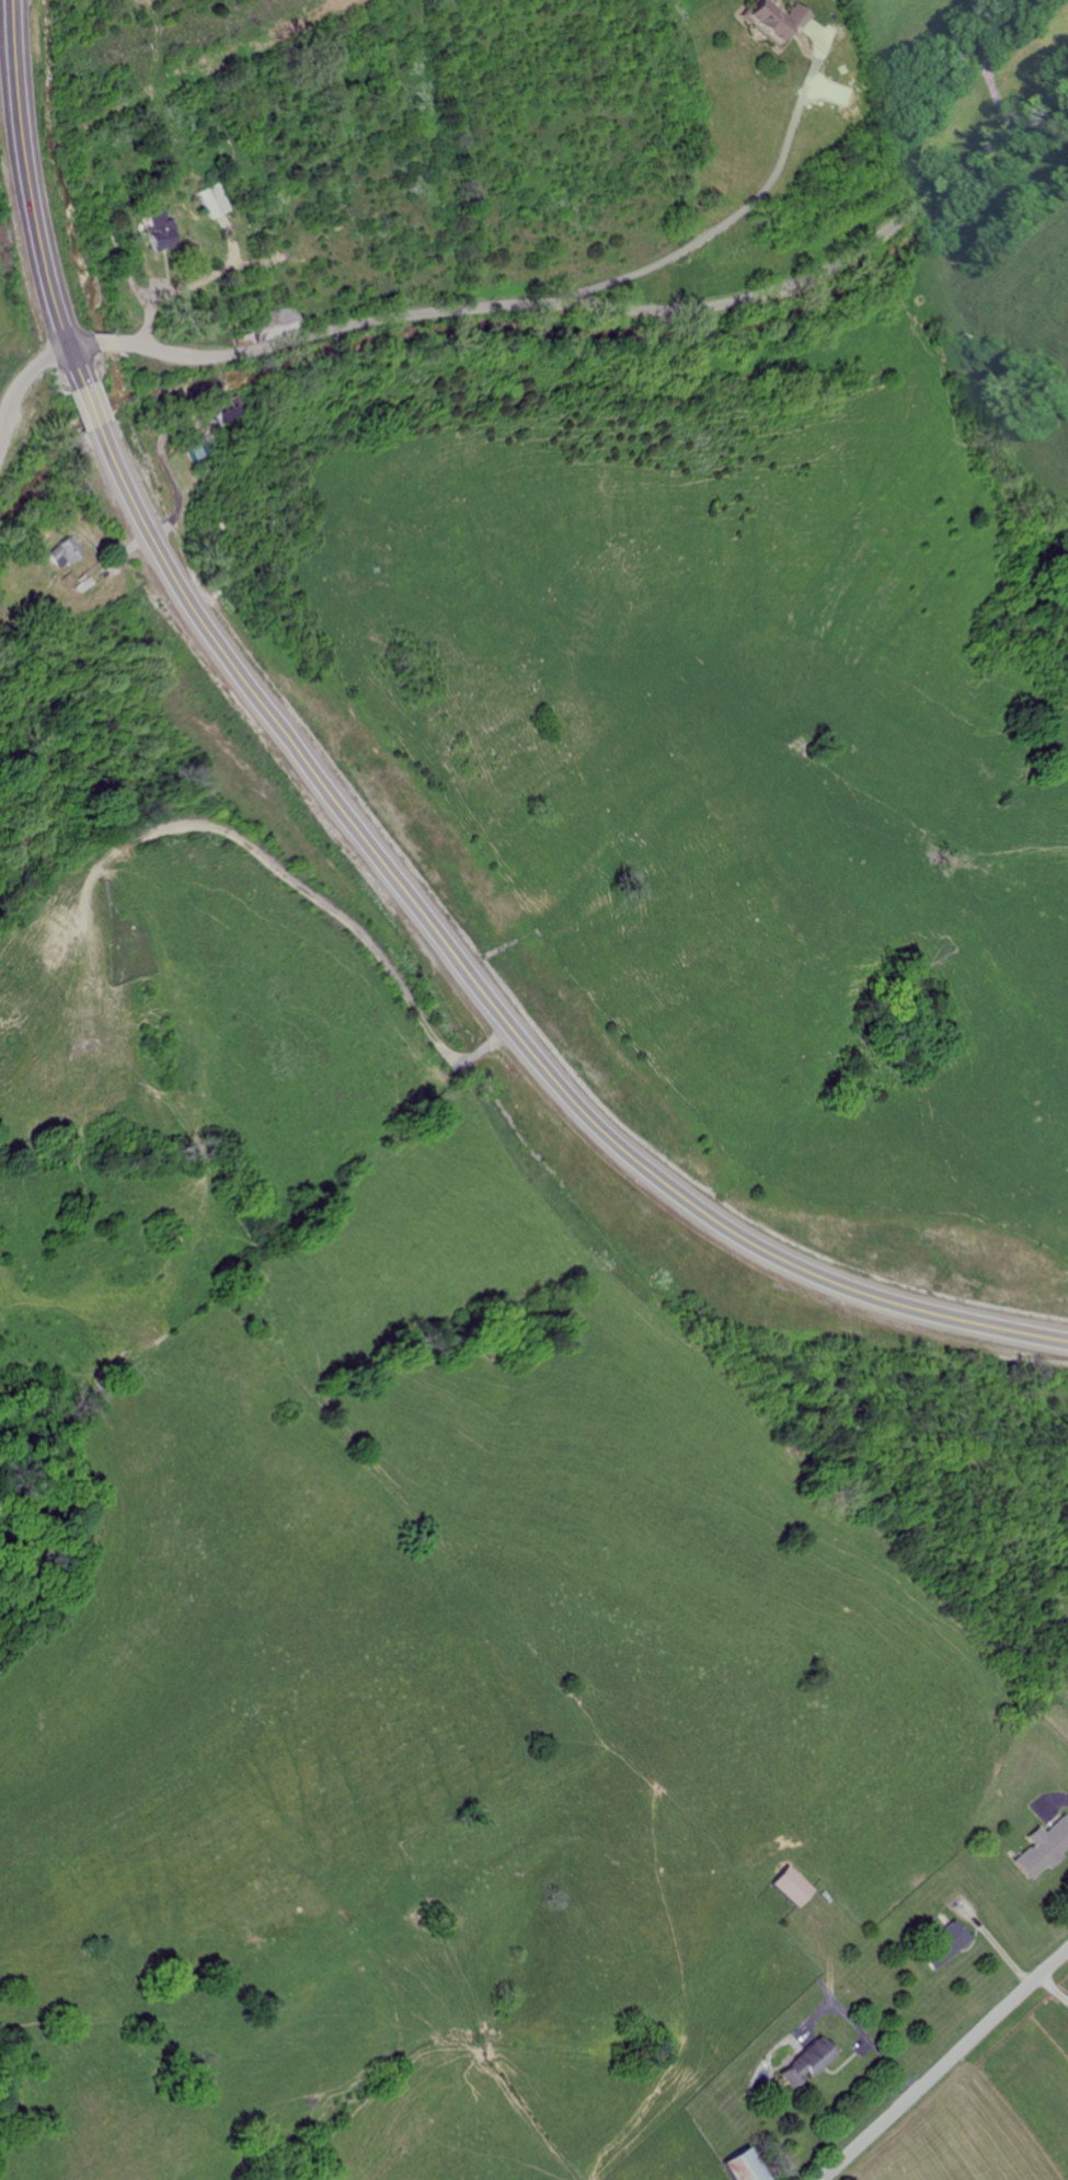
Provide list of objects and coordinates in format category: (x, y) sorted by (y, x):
building: (776, 19)
road: (990, 65)
road: (728, 217)
building: (161, 230)
road: (592, 305)
building: (236, 405)
road: (26, 425)
building: (68, 552)
road: (356, 823)
building: (1044, 1849)
building: (792, 1886)
building: (944, 1946)
road: (1056, 1983)
road: (861, 2032)
building: (805, 2063)
road: (945, 2065)
building: (745, 2166)

